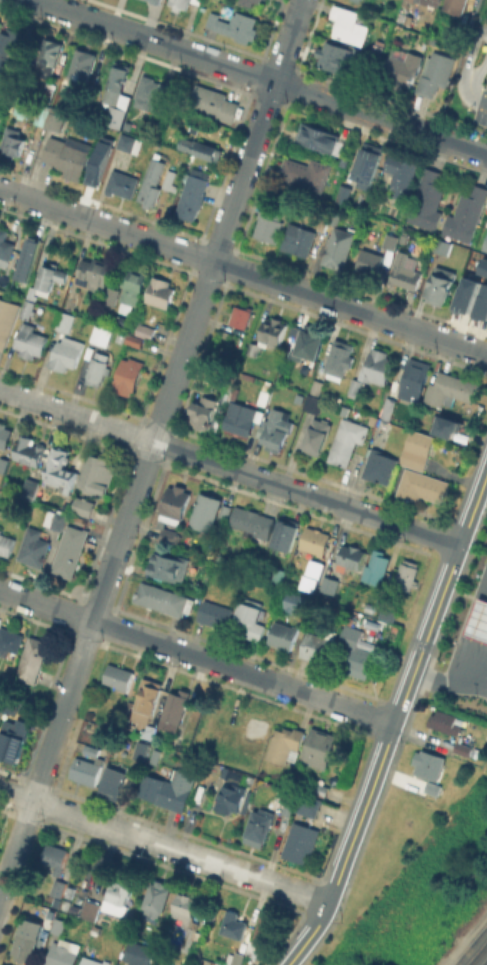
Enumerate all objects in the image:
building: (258, 0)
building: (358, 0)
building: (413, 0)
building: (155, 1)
building: (197, 1)
building: (247, 2)
building: (433, 2)
building: (180, 4)
building: (455, 6)
parking lot: (486, 14)
building: (235, 25)
building: (349, 25)
building: (454, 32)
road: (486, 32)
building: (8, 46)
building: (375, 48)
building: (339, 55)
building: (49, 57)
road: (466, 65)
building: (82, 66)
building: (402, 66)
road: (479, 70)
building: (436, 75)
road: (260, 76)
building: (91, 83)
building: (151, 93)
building: (117, 95)
road: (486, 99)
building: (214, 102)
road: (486, 102)
building: (23, 106)
building: (0, 111)
building: (43, 112)
parking lot: (479, 116)
building: (56, 118)
building: (127, 124)
building: (121, 139)
building: (317, 140)
building: (12, 141)
building: (200, 147)
building: (67, 156)
building: (365, 164)
building: (97, 168)
building: (305, 172)
building: (402, 173)
building: (171, 179)
building: (122, 182)
building: (151, 182)
building: (193, 193)
building: (341, 193)
building: (428, 199)
building: (486, 202)
building: (466, 214)
building: (330, 218)
building: (268, 224)
building: (299, 238)
building: (390, 240)
building: (442, 246)
building: (5, 247)
building: (339, 247)
building: (486, 249)
building: (27, 260)
building: (370, 262)
building: (484, 266)
road: (243, 271)
building: (94, 273)
building: (404, 273)
building: (50, 277)
building: (135, 282)
building: (440, 285)
building: (31, 291)
building: (160, 291)
building: (466, 292)
building: (111, 294)
building: (482, 302)
building: (27, 307)
road: (197, 310)
building: (241, 315)
building: (6, 319)
building: (65, 320)
building: (145, 330)
building: (295, 332)
building: (270, 333)
building: (95, 336)
building: (135, 339)
building: (30, 340)
building: (309, 342)
building: (66, 353)
building: (340, 357)
building: (377, 366)
building: (97, 367)
building: (128, 378)
building: (407, 384)
building: (316, 386)
building: (355, 387)
building: (451, 388)
building: (314, 403)
building: (208, 416)
building: (241, 420)
building: (277, 429)
building: (453, 429)
building: (5, 435)
building: (318, 439)
building: (347, 443)
building: (416, 449)
building: (32, 453)
building: (4, 467)
road: (230, 467)
building: (379, 468)
building: (62, 471)
building: (100, 475)
building: (420, 486)
building: (31, 488)
building: (85, 508)
road: (474, 508)
building: (222, 511)
building: (207, 512)
building: (226, 512)
building: (173, 516)
building: (56, 520)
building: (252, 521)
building: (285, 536)
parking lot: (484, 538)
building: (315, 541)
building: (6, 544)
building: (34, 548)
building: (71, 551)
building: (352, 557)
building: (172, 568)
building: (377, 568)
building: (318, 571)
building: (408, 575)
building: (278, 578)
building: (330, 585)
building: (164, 599)
building: (296, 602)
building: (388, 614)
building: (215, 615)
building: (478, 619)
gas station: (478, 619)
building: (251, 620)
building: (283, 636)
building: (10, 639)
road: (426, 639)
building: (320, 646)
building: (357, 653)
road: (197, 656)
building: (33, 660)
building: (119, 677)
road: (451, 678)
building: (147, 699)
building: (175, 710)
building: (446, 722)
building: (255, 733)
building: (225, 735)
building: (286, 745)
building: (12, 746)
building: (460, 748)
building: (138, 749)
building: (320, 749)
building: (92, 750)
road: (45, 759)
building: (426, 764)
building: (86, 771)
building: (116, 783)
building: (430, 787)
building: (319, 789)
building: (166, 792)
building: (231, 799)
building: (304, 805)
road: (360, 817)
building: (259, 825)
building: (301, 843)
road: (165, 846)
building: (58, 868)
building: (119, 897)
building: (159, 898)
building: (76, 905)
building: (91, 910)
building: (189, 921)
building: (59, 925)
building: (235, 925)
road: (311, 935)
building: (262, 936)
railway: (468, 942)
building: (25, 947)
railway: (474, 950)
building: (62, 954)
building: (140, 954)
railway: (480, 957)
building: (236, 958)
building: (93, 961)
railway: (486, 964)

